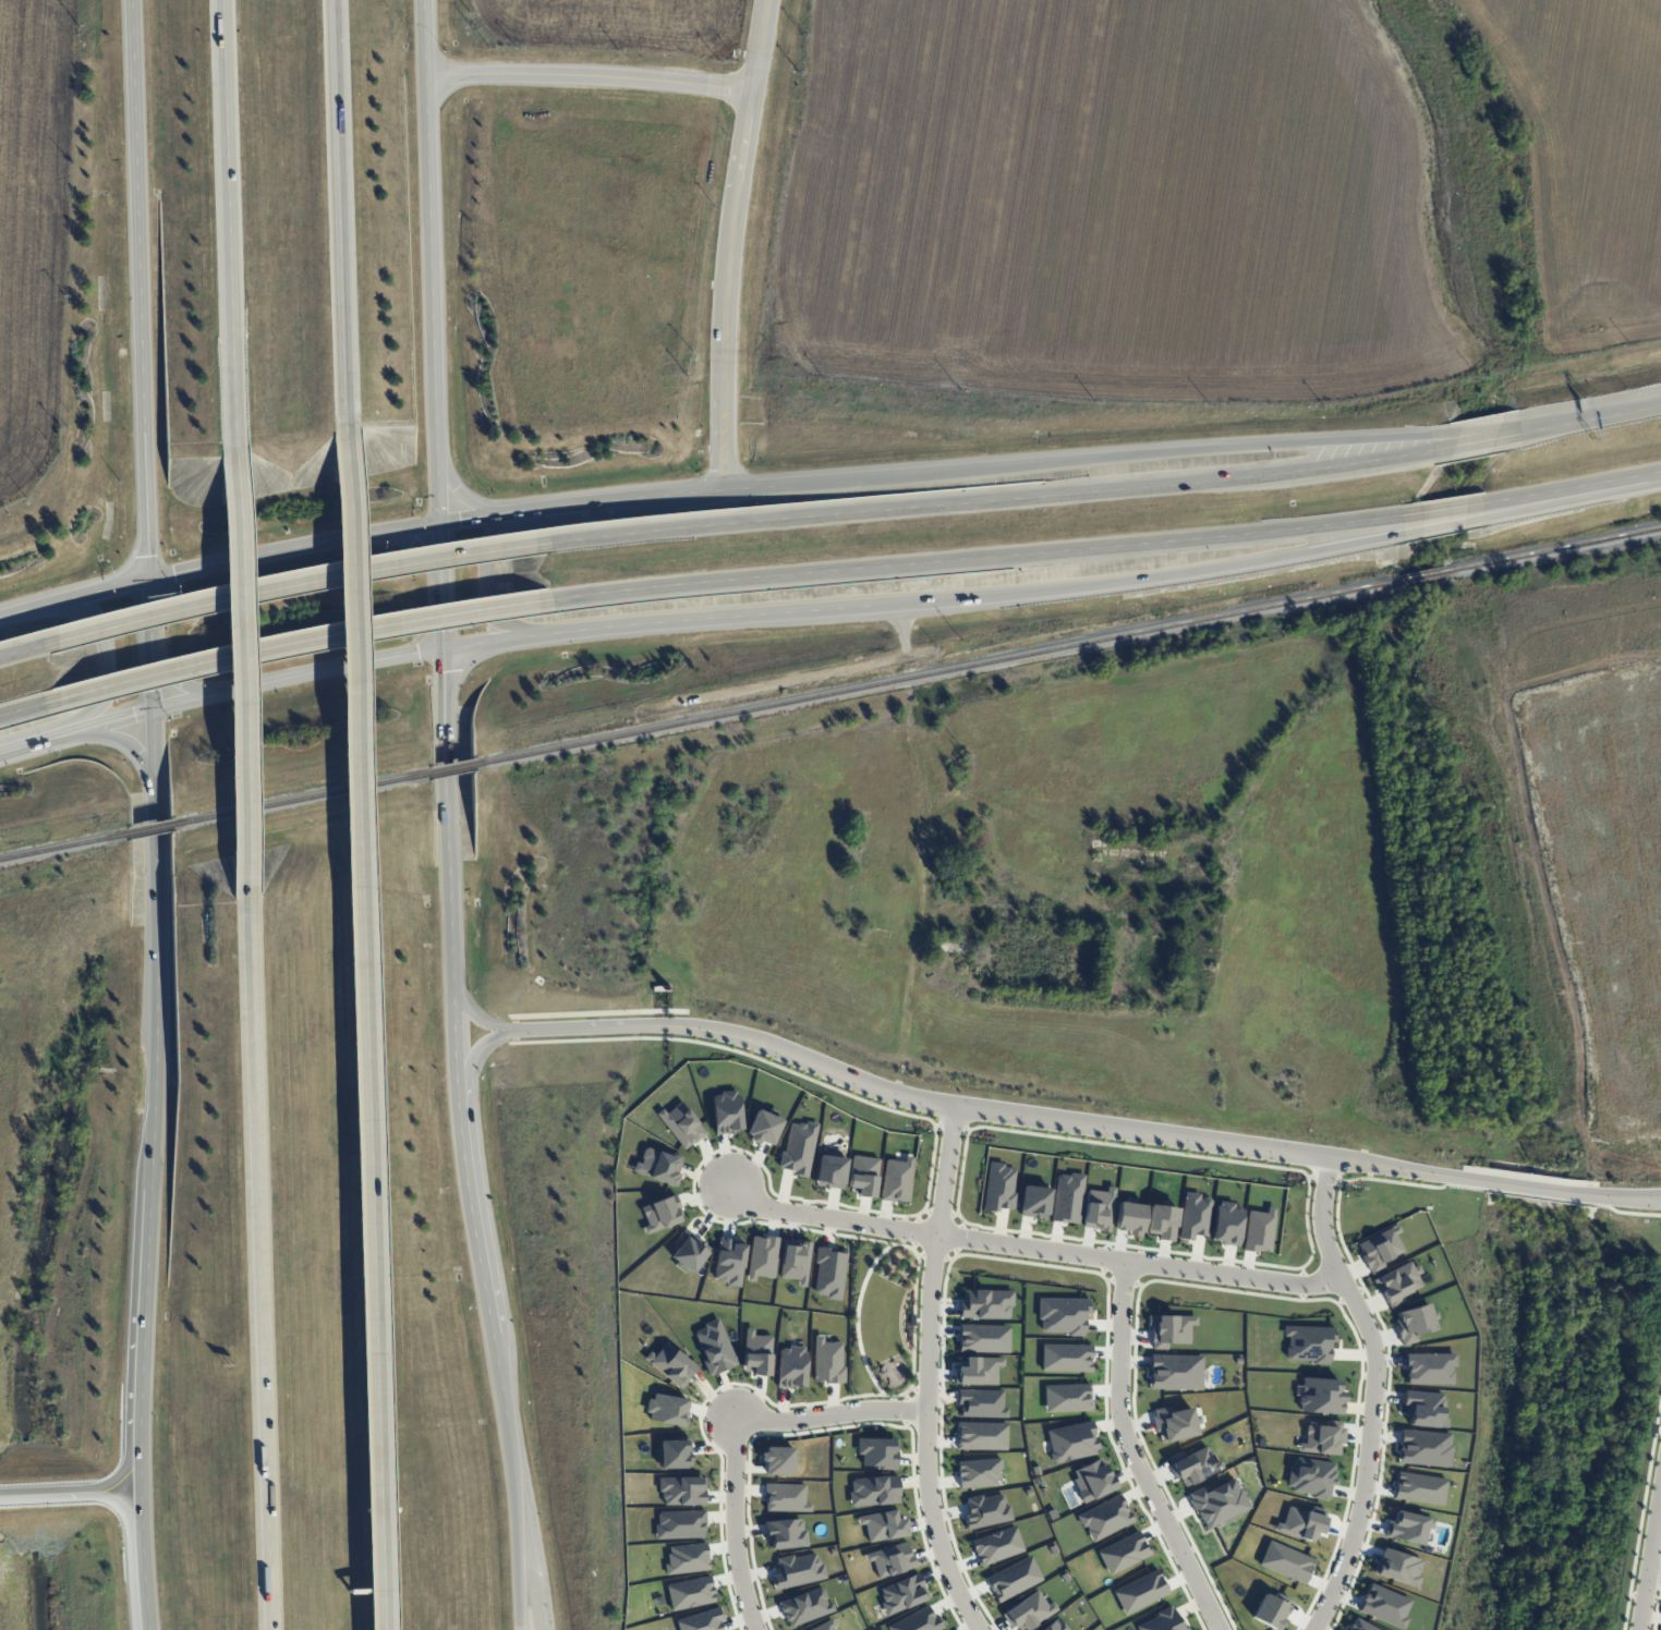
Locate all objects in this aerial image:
road: (425, 37)
road: (589, 74)
road: (341, 223)
road: (231, 229)
road: (728, 243)
road: (144, 290)
road: (431, 300)
road: (1173, 453)
road: (1106, 489)
road: (696, 491)
road: (459, 495)
road: (571, 506)
road: (513, 513)
road: (471, 520)
traffic signals: (439, 525)
road: (1106, 547)
road: (419, 549)
road: (441, 554)
road: (1270, 561)
road: (218, 565)
road: (485, 577)
traffic signals: (148, 582)
road: (292, 583)
road: (149, 615)
road: (444, 616)
road: (303, 643)
railway: (1068, 645)
road: (460, 646)
traffic signals: (445, 648)
road: (21, 650)
road: (906, 659)
road: (106, 665)
road: (241, 677)
road: (150, 679)
road: (177, 679)
road: (31, 708)
traffic signals: (150, 709)
road: (28, 745)
road: (126, 745)
road: (1621, 756)
railway: (452, 767)
railway: (300, 798)
road: (449, 824)
railway: (151, 828)
railway: (65, 844)
road: (572, 1013)
road: (363, 1018)
road: (476, 1019)
road: (636, 1025)
road: (514, 1030)
road: (458, 1037)
road: (477, 1047)
road: (154, 1102)
building: (727, 1111)
road: (1043, 1118)
road: (998, 1128)
building: (798, 1147)
building: (658, 1166)
road: (1408, 1168)
building: (830, 1170)
road: (1536, 1187)
road: (1550, 1187)
road: (1623, 1191)
building: (1067, 1197)
road: (1541, 1197)
road: (1622, 1202)
road: (472, 1205)
building: (1099, 1208)
road: (1622, 1212)
building: (1193, 1216)
building: (1130, 1217)
building: (1162, 1220)
building: (1226, 1224)
building: (1259, 1230)
road: (1032, 1248)
building: (1379, 1249)
building: (729, 1261)
road: (257, 1263)
building: (829, 1273)
building: (1397, 1284)
building: (985, 1304)
building: (1413, 1323)
building: (1171, 1329)
building: (791, 1367)
building: (979, 1371)
building: (1175, 1372)
road: (925, 1373)
road: (501, 1375)
road: (1374, 1390)
building: (1321, 1396)
building: (1424, 1409)
road: (733, 1433)
building: (1071, 1440)
road: (1133, 1455)
building: (1093, 1480)
road: (70, 1496)
building: (1104, 1517)
road: (517, 1522)
building: (786, 1532)
road: (1648, 1557)
road: (144, 1561)
building: (799, 1570)
road: (1653, 1570)
road: (380, 1608)
building: (1029, 1610)
building: (1361, 1626)

